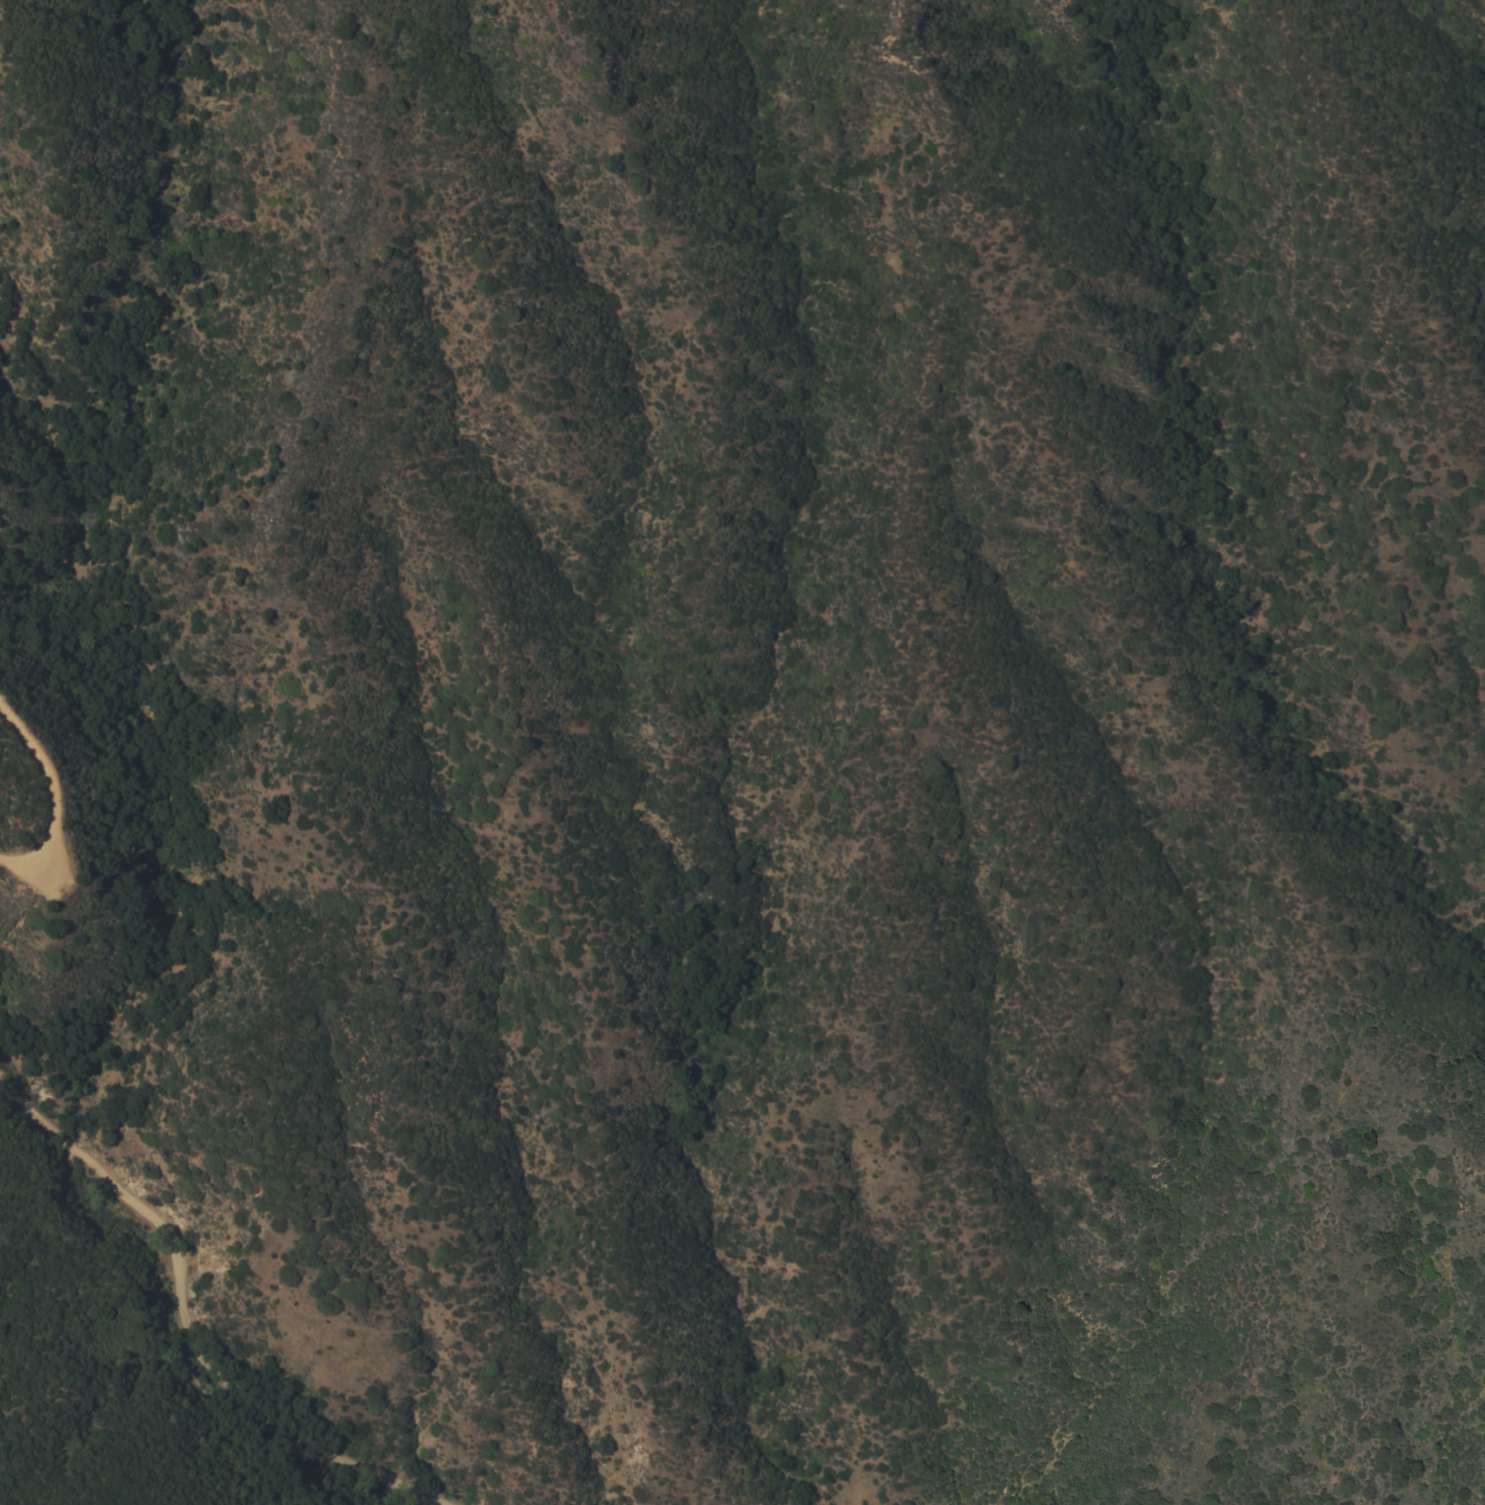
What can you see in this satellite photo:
road: (50, 812)
road: (188, 1316)

